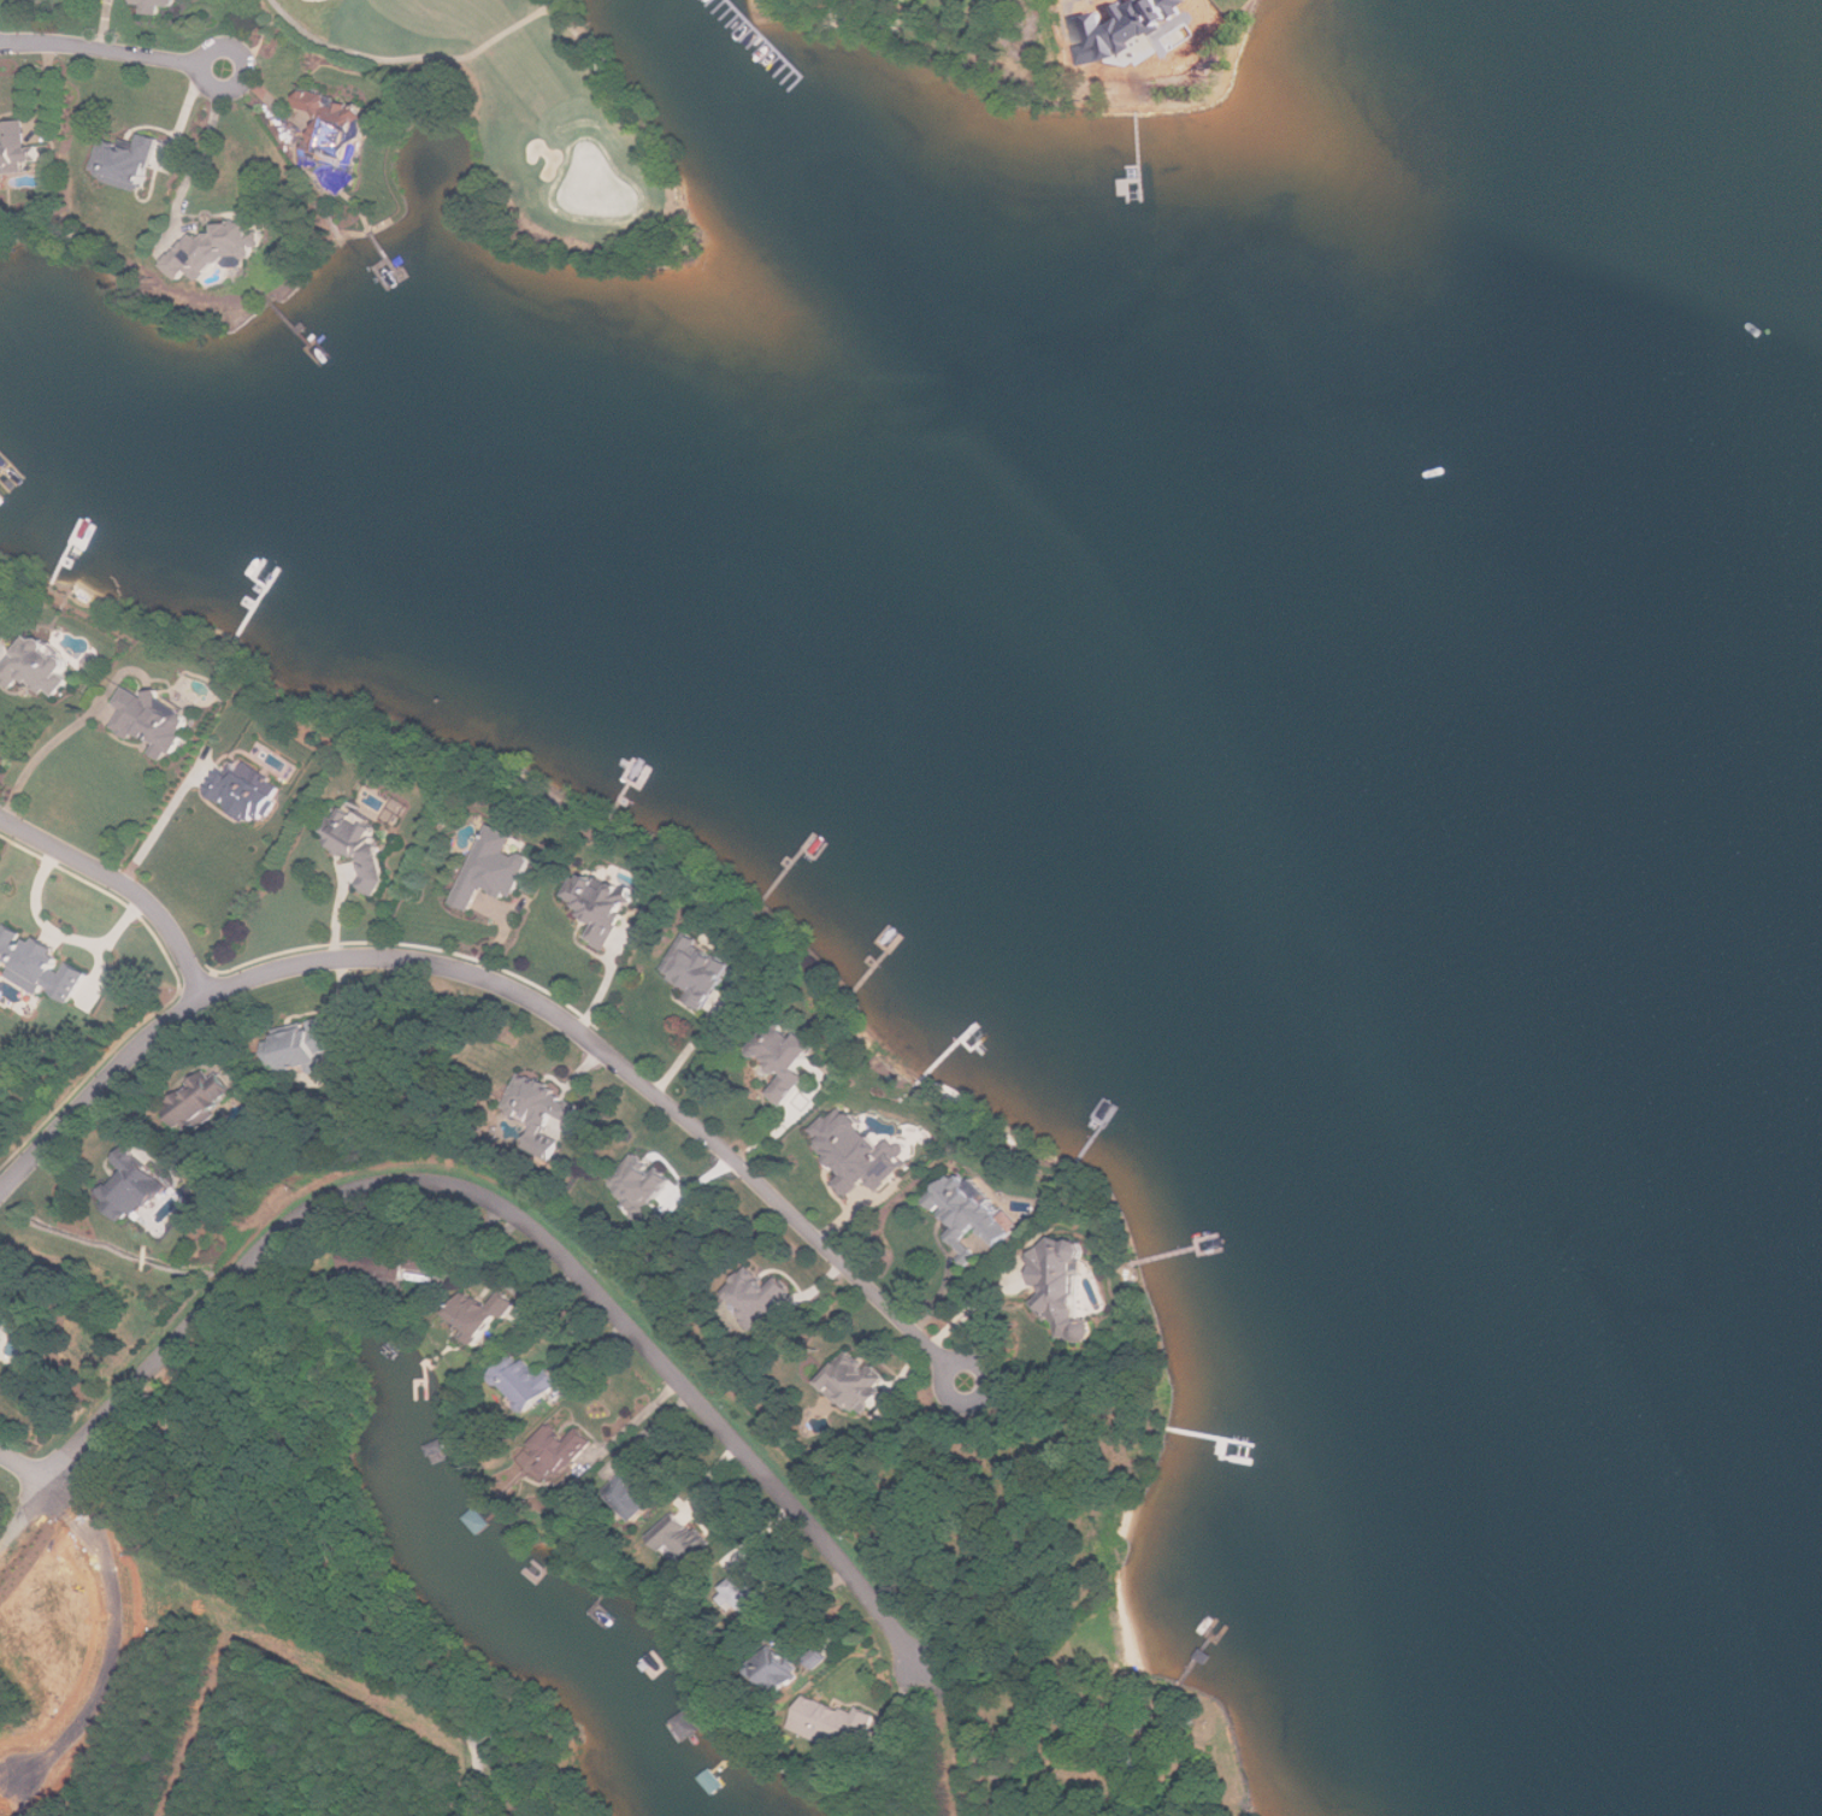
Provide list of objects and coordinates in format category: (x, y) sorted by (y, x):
building: (158, 4)
road: (579, 34)
pier: (767, 39)
road: (101, 47)
road: (415, 59)
road: (202, 64)
building: (335, 124)
park: (535, 129)
building: (18, 148)
building: (130, 158)
road: (199, 159)
building: (217, 248)
building: (33, 668)
building: (149, 721)
road: (43, 751)
building: (248, 789)
road: (161, 825)
building: (364, 844)
building: (499, 867)
road: (124, 882)
building: (600, 904)
building: (40, 963)
building: (700, 971)
road: (608, 980)
road: (503, 983)
road: (692, 1045)
building: (300, 1046)
building: (786, 1057)
building: (202, 1102)
building: (541, 1103)
building: (862, 1151)
building: (131, 1186)
building: (639, 1187)
road: (519, 1215)
building: (967, 1216)
building: (383, 1263)
road: (508, 1283)
building: (1062, 1285)
building: (756, 1295)
road: (975, 1305)
building: (479, 1313)
road: (954, 1364)
building: (525, 1382)
building: (859, 1384)
building: (561, 1448)
building: (440, 1452)
building: (633, 1494)
road: (23, 1513)
building: (682, 1544)
building: (565, 1551)
building: (748, 1591)
road: (116, 1608)
building: (1205, 1657)
road: (902, 1696)
building: (833, 1723)
building: (686, 1724)
road: (972, 1737)
building: (1130, 1758)
road: (23, 1798)

